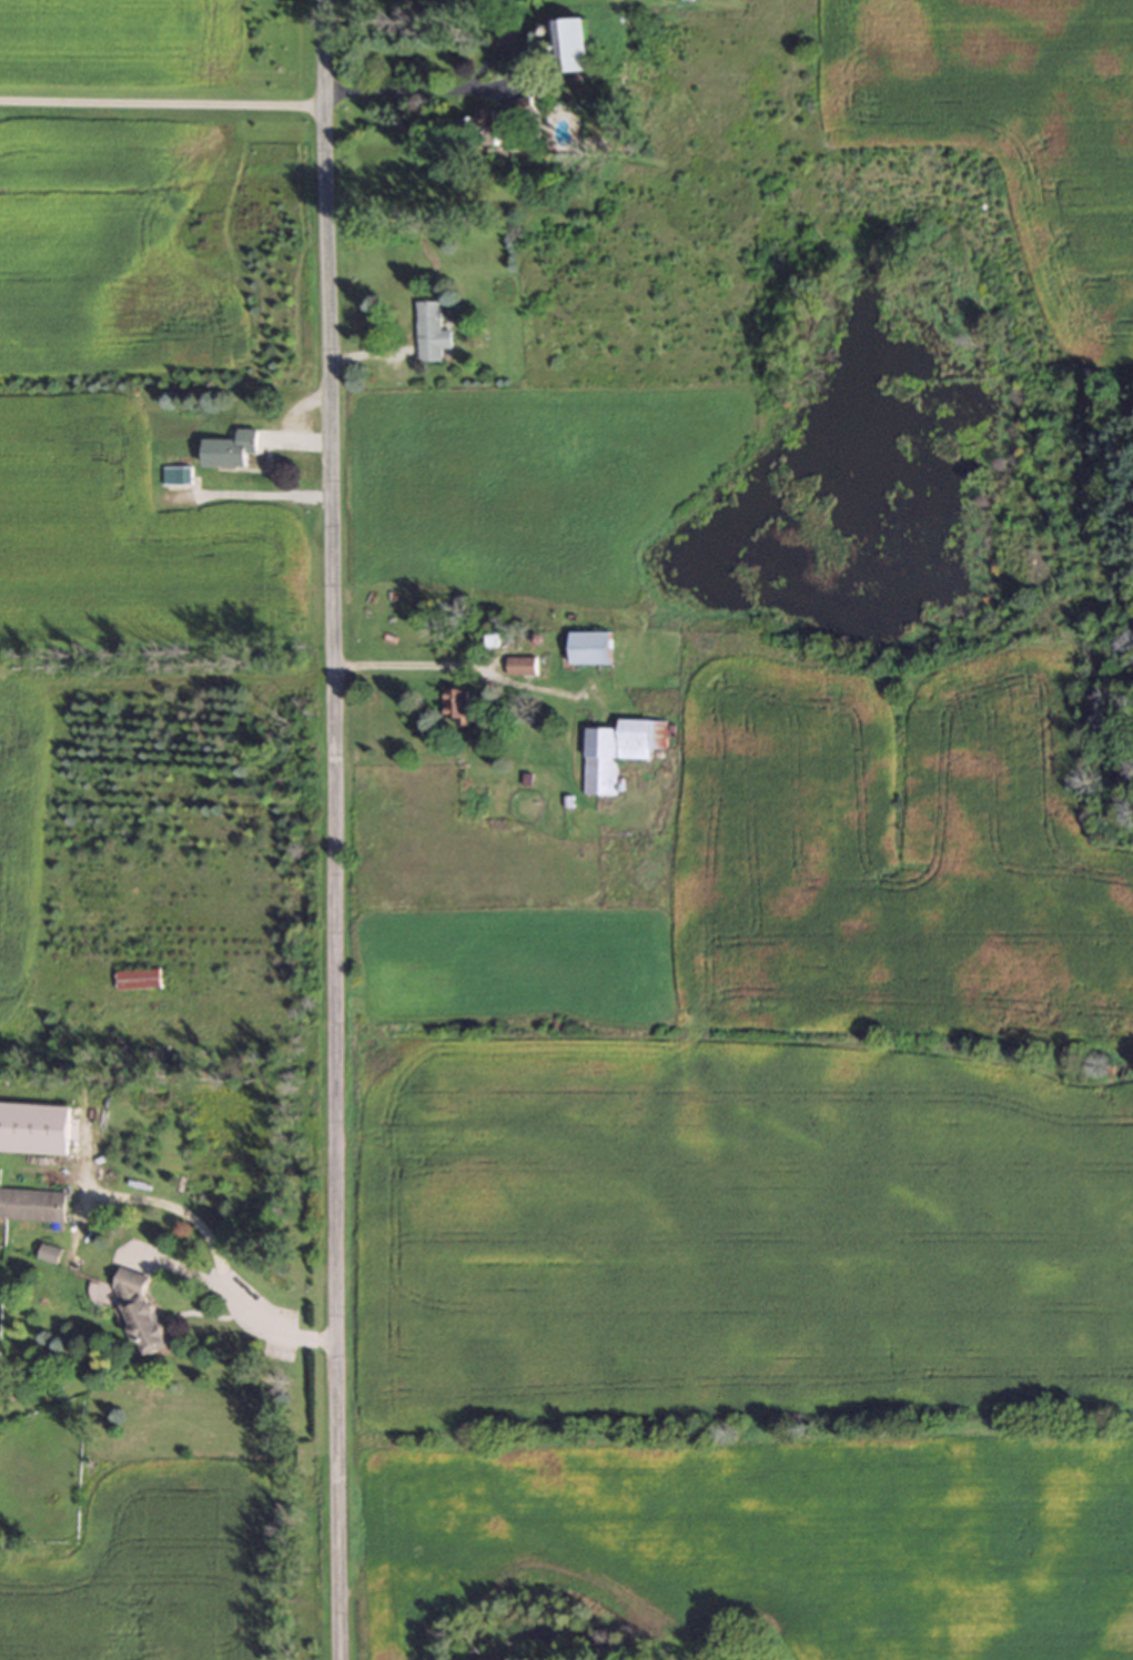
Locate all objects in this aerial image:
building: (508, 31)
building: (569, 44)
road: (415, 88)
road: (169, 100)
building: (498, 121)
building: (429, 332)
building: (230, 448)
building: (174, 475)
building: (590, 647)
building: (522, 665)
road: (421, 676)
building: (456, 707)
building: (620, 750)
road: (346, 830)
building: (33, 1127)
building: (31, 1204)
road: (203, 1236)
building: (143, 1310)

